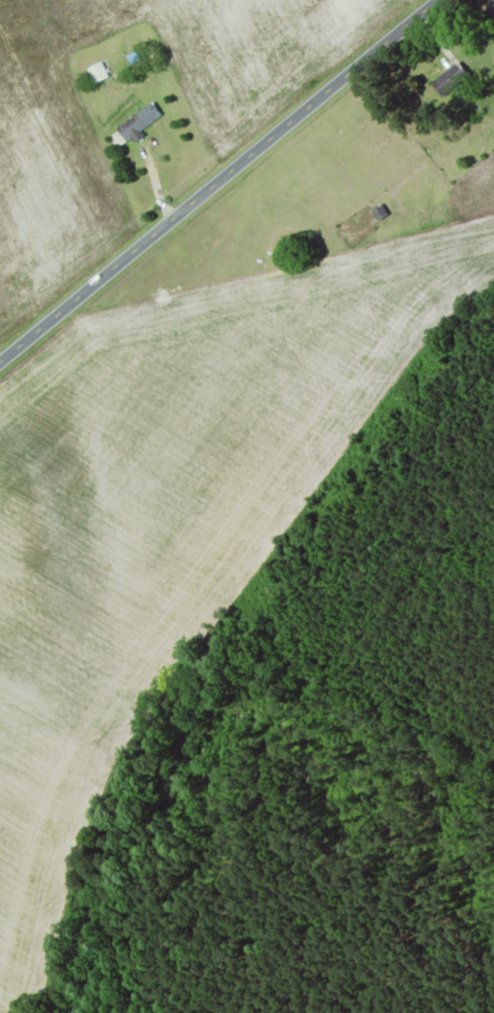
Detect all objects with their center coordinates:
building: (96, 74)
building: (446, 80)
building: (137, 124)
road: (216, 180)

